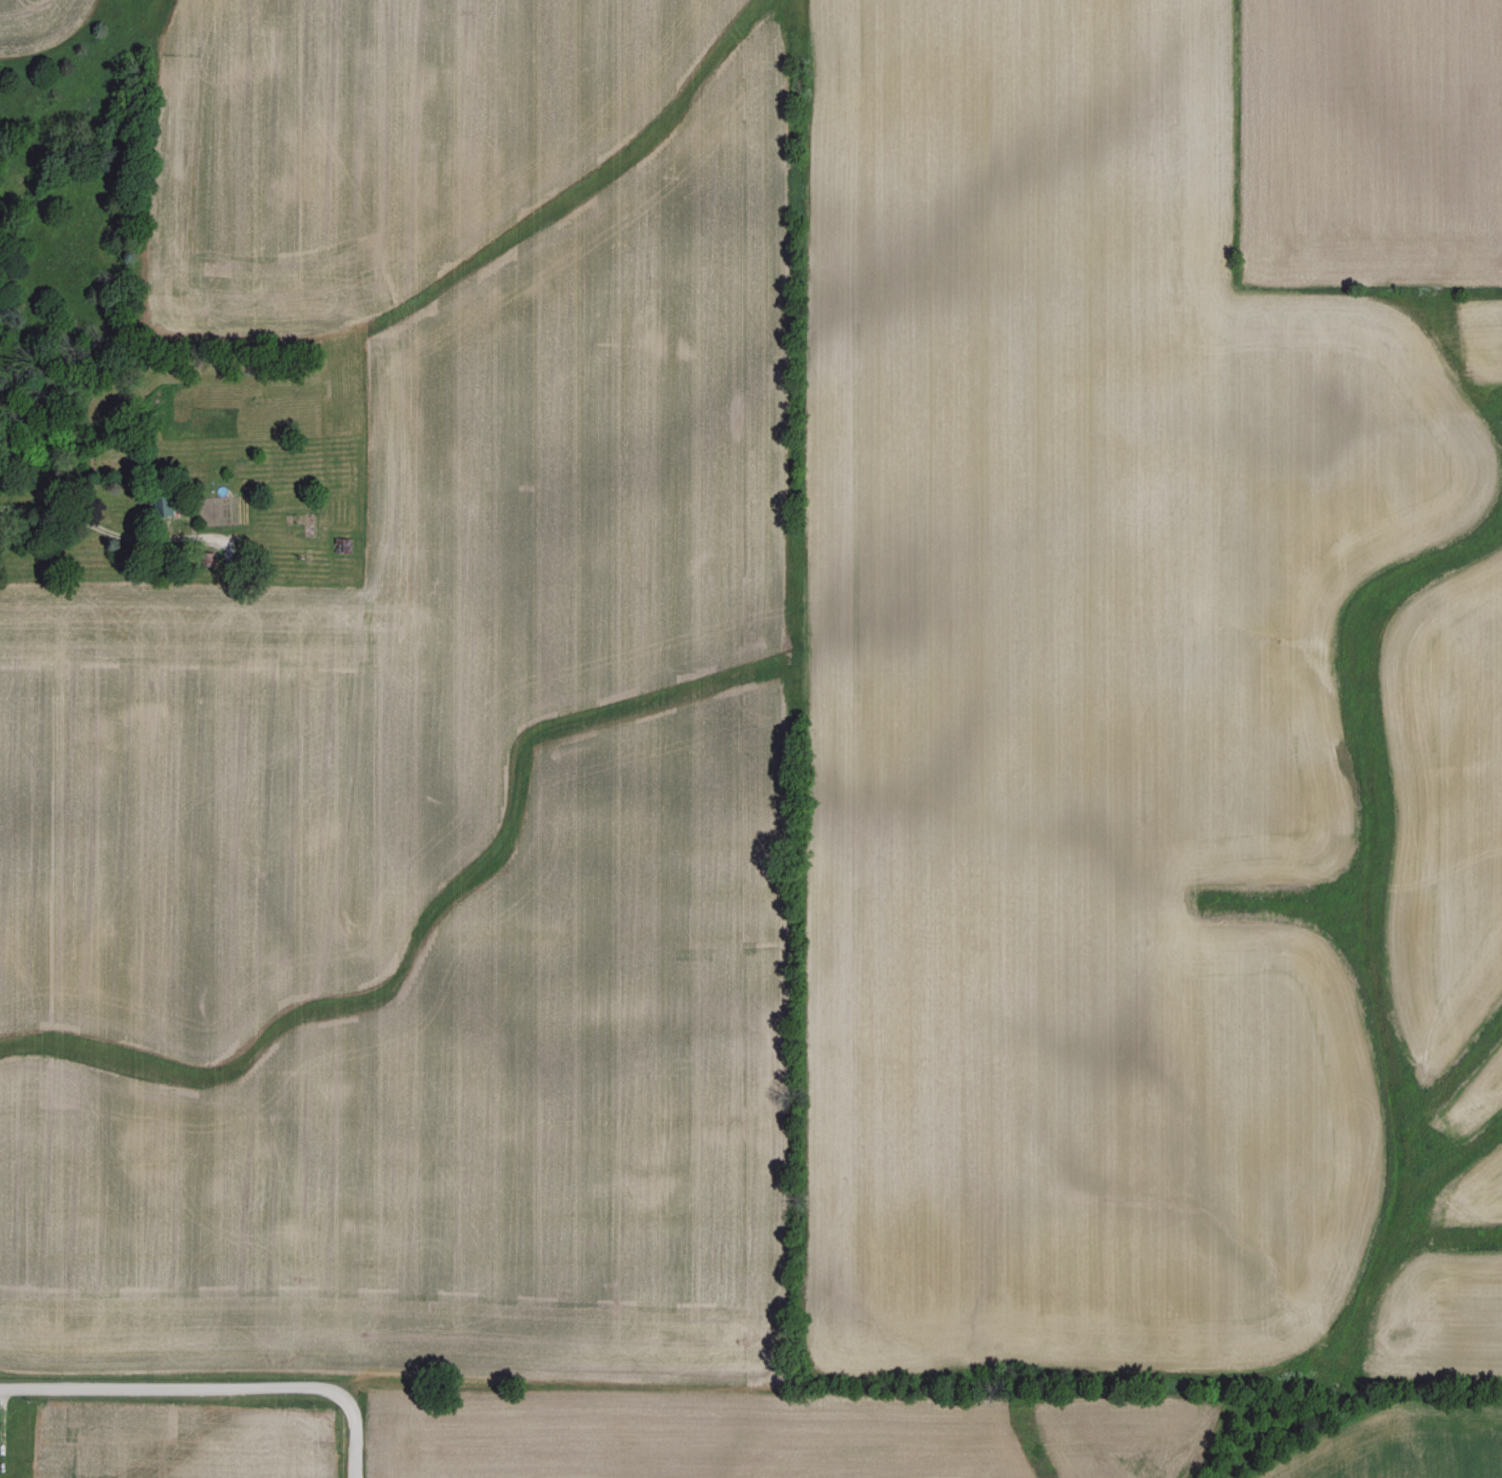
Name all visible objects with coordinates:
building: (157, 506)
road: (100, 528)
road: (174, 1388)
road: (354, 1438)

